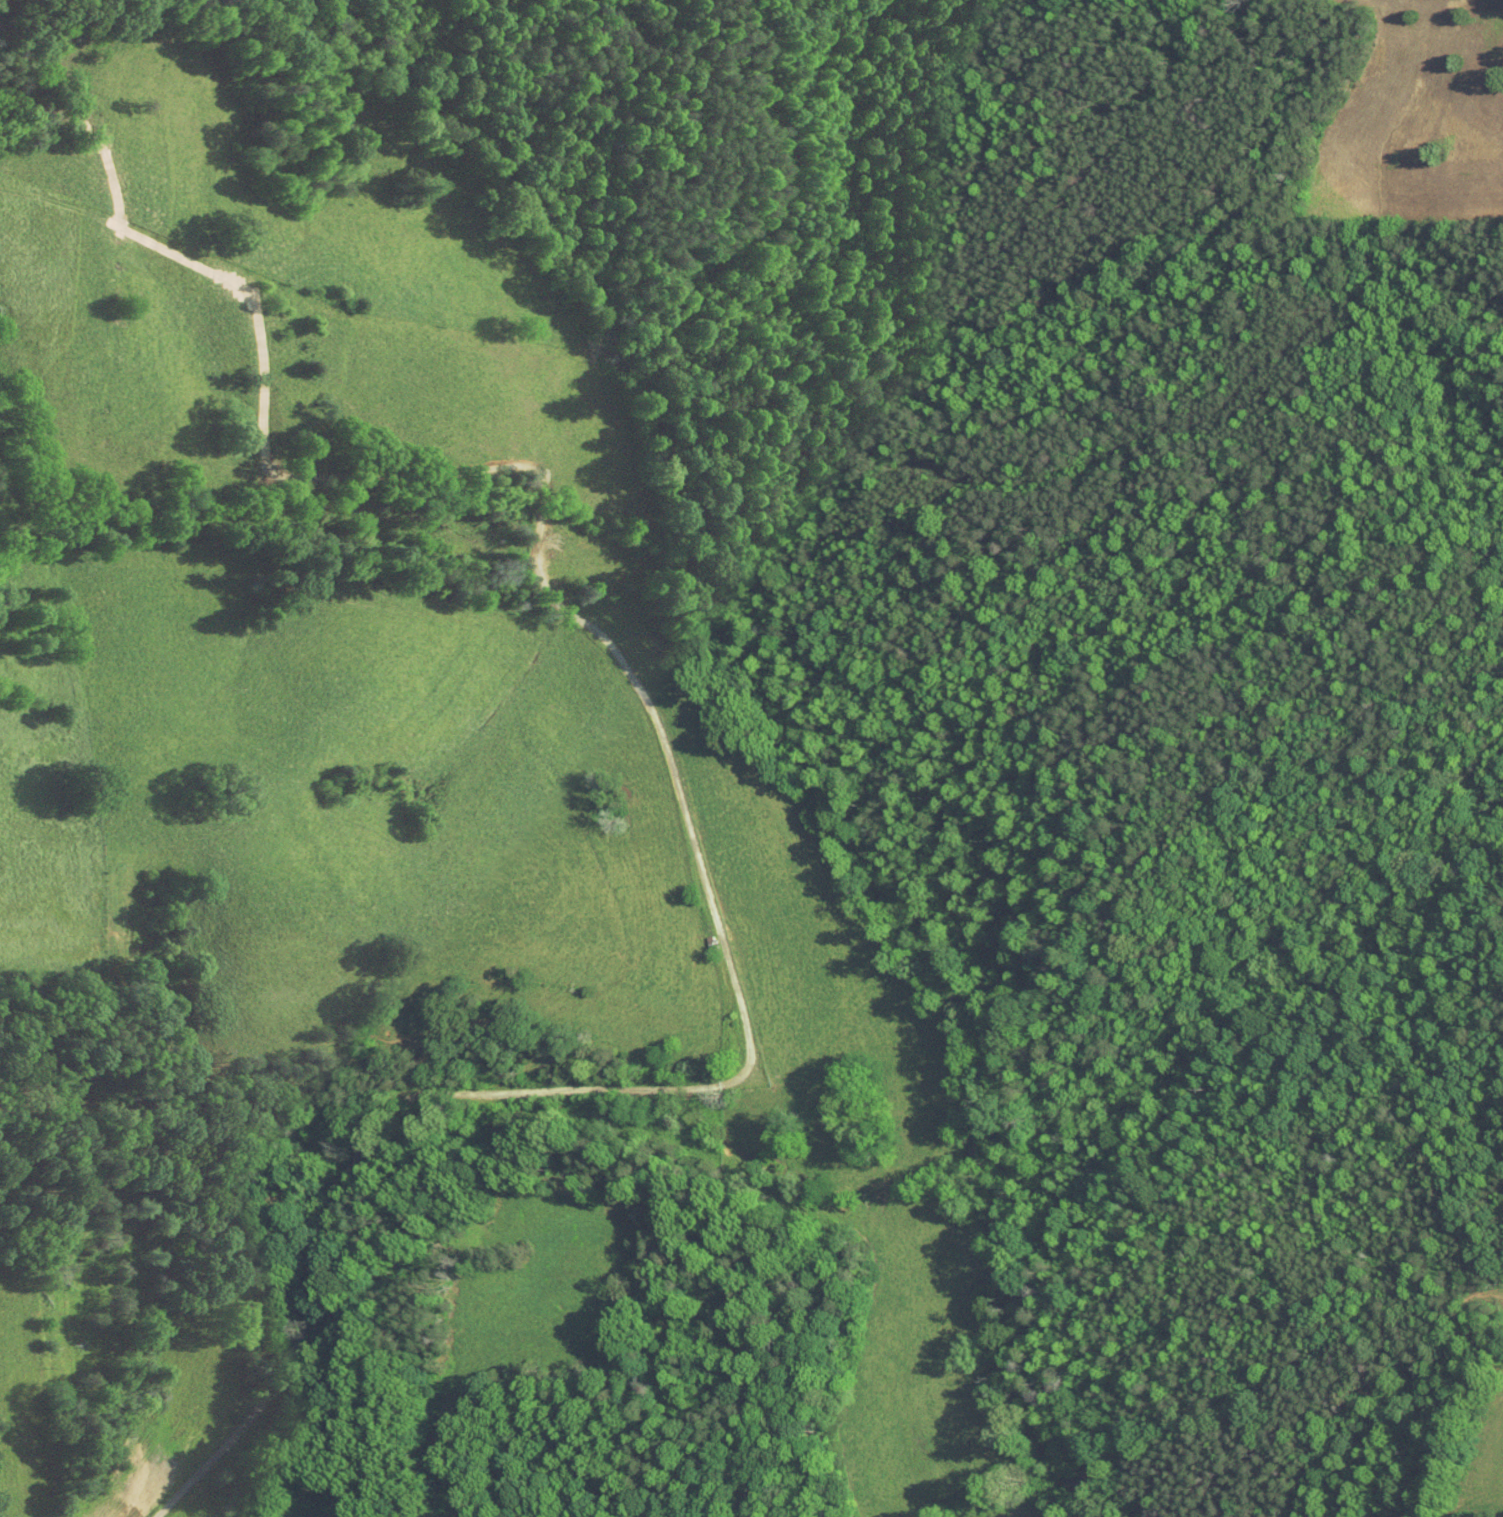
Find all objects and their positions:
road: (218, 1380)

